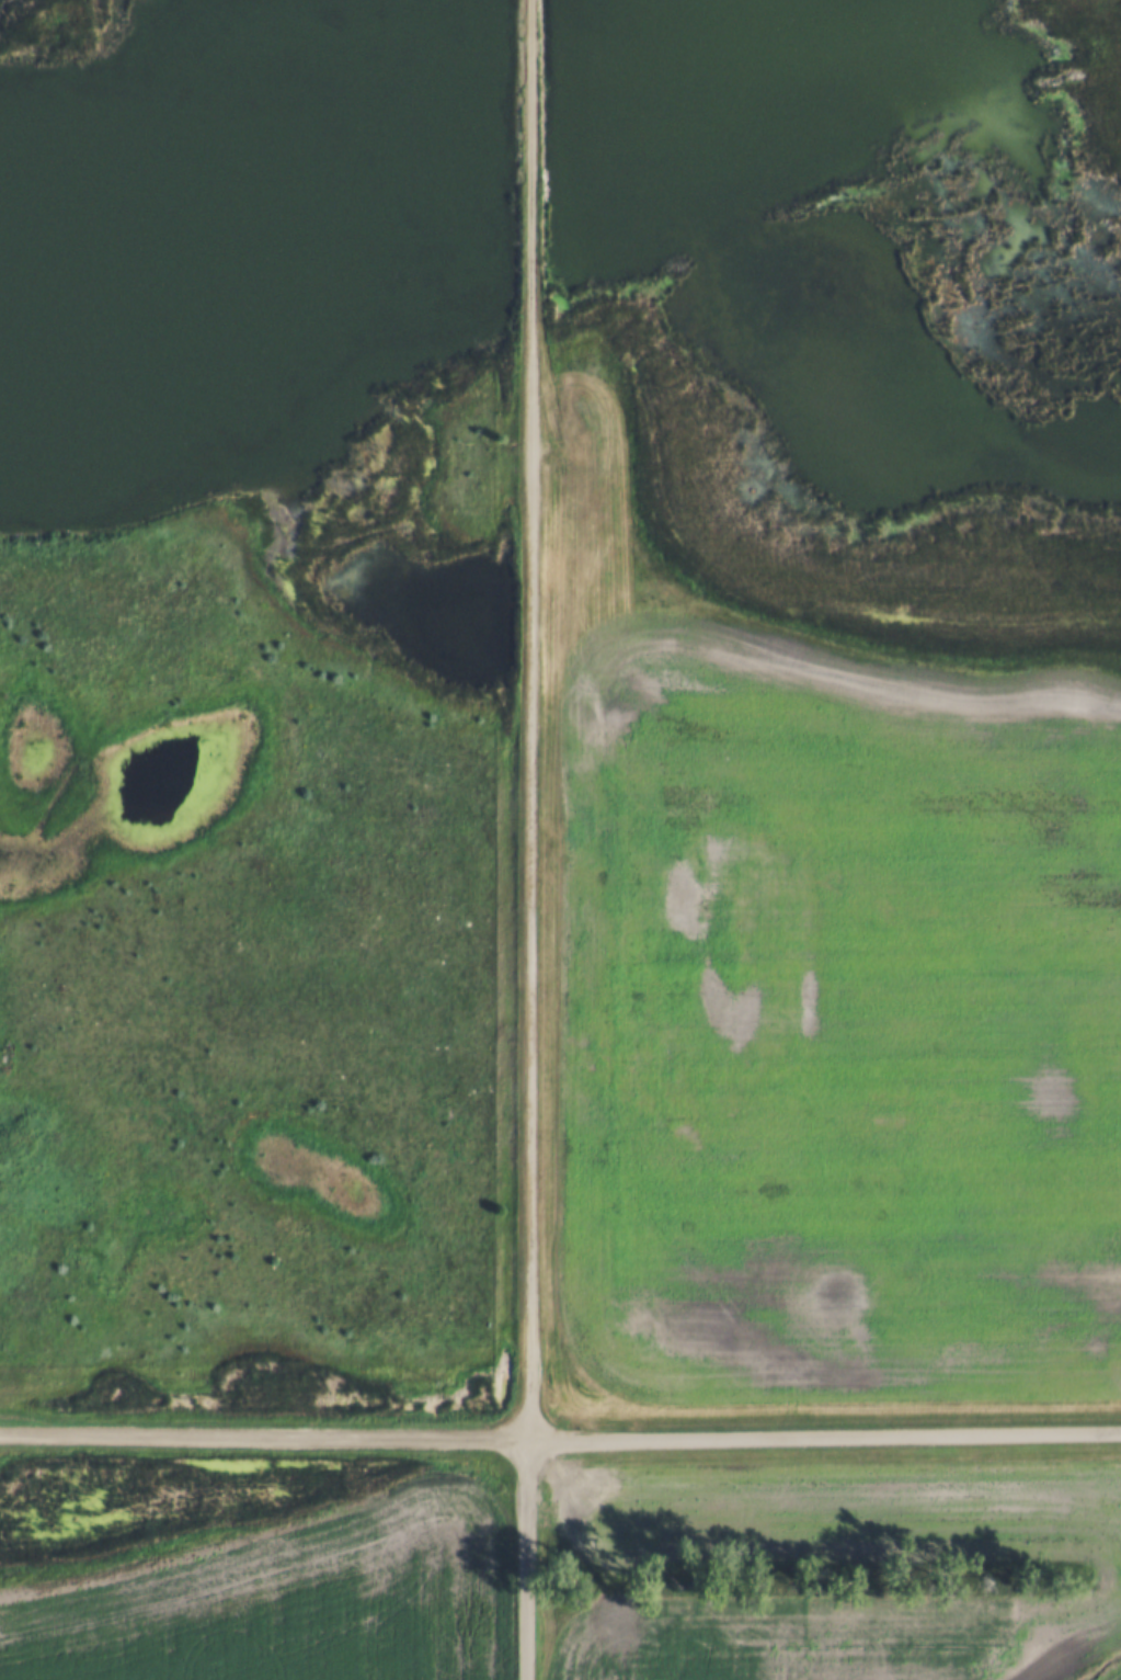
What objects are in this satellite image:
road: (530, 840)
road: (560, 1437)

